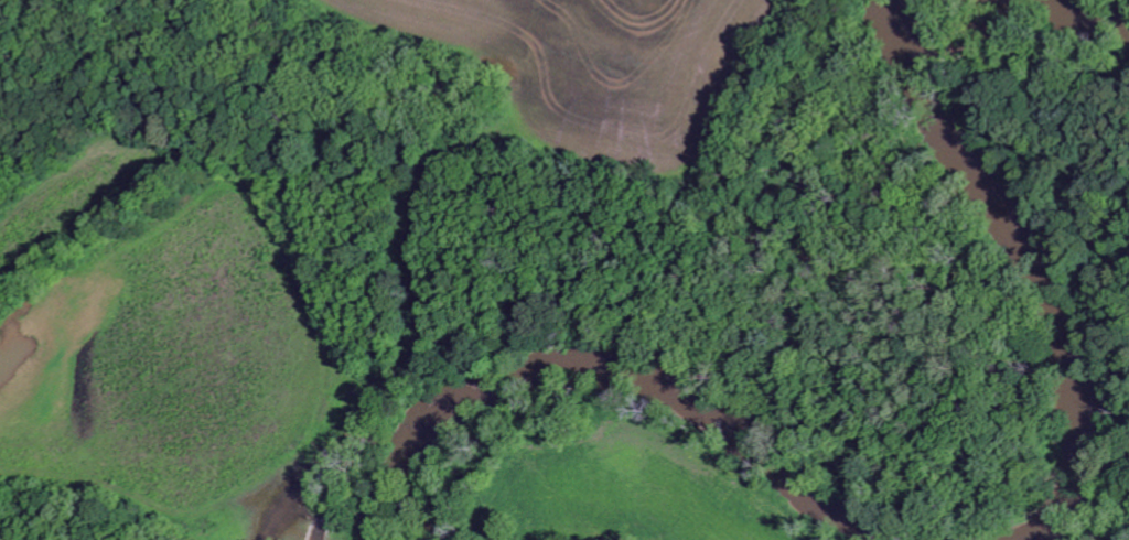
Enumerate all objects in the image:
river: (1073, 12)
river: (1034, 268)
river: (607, 364)

